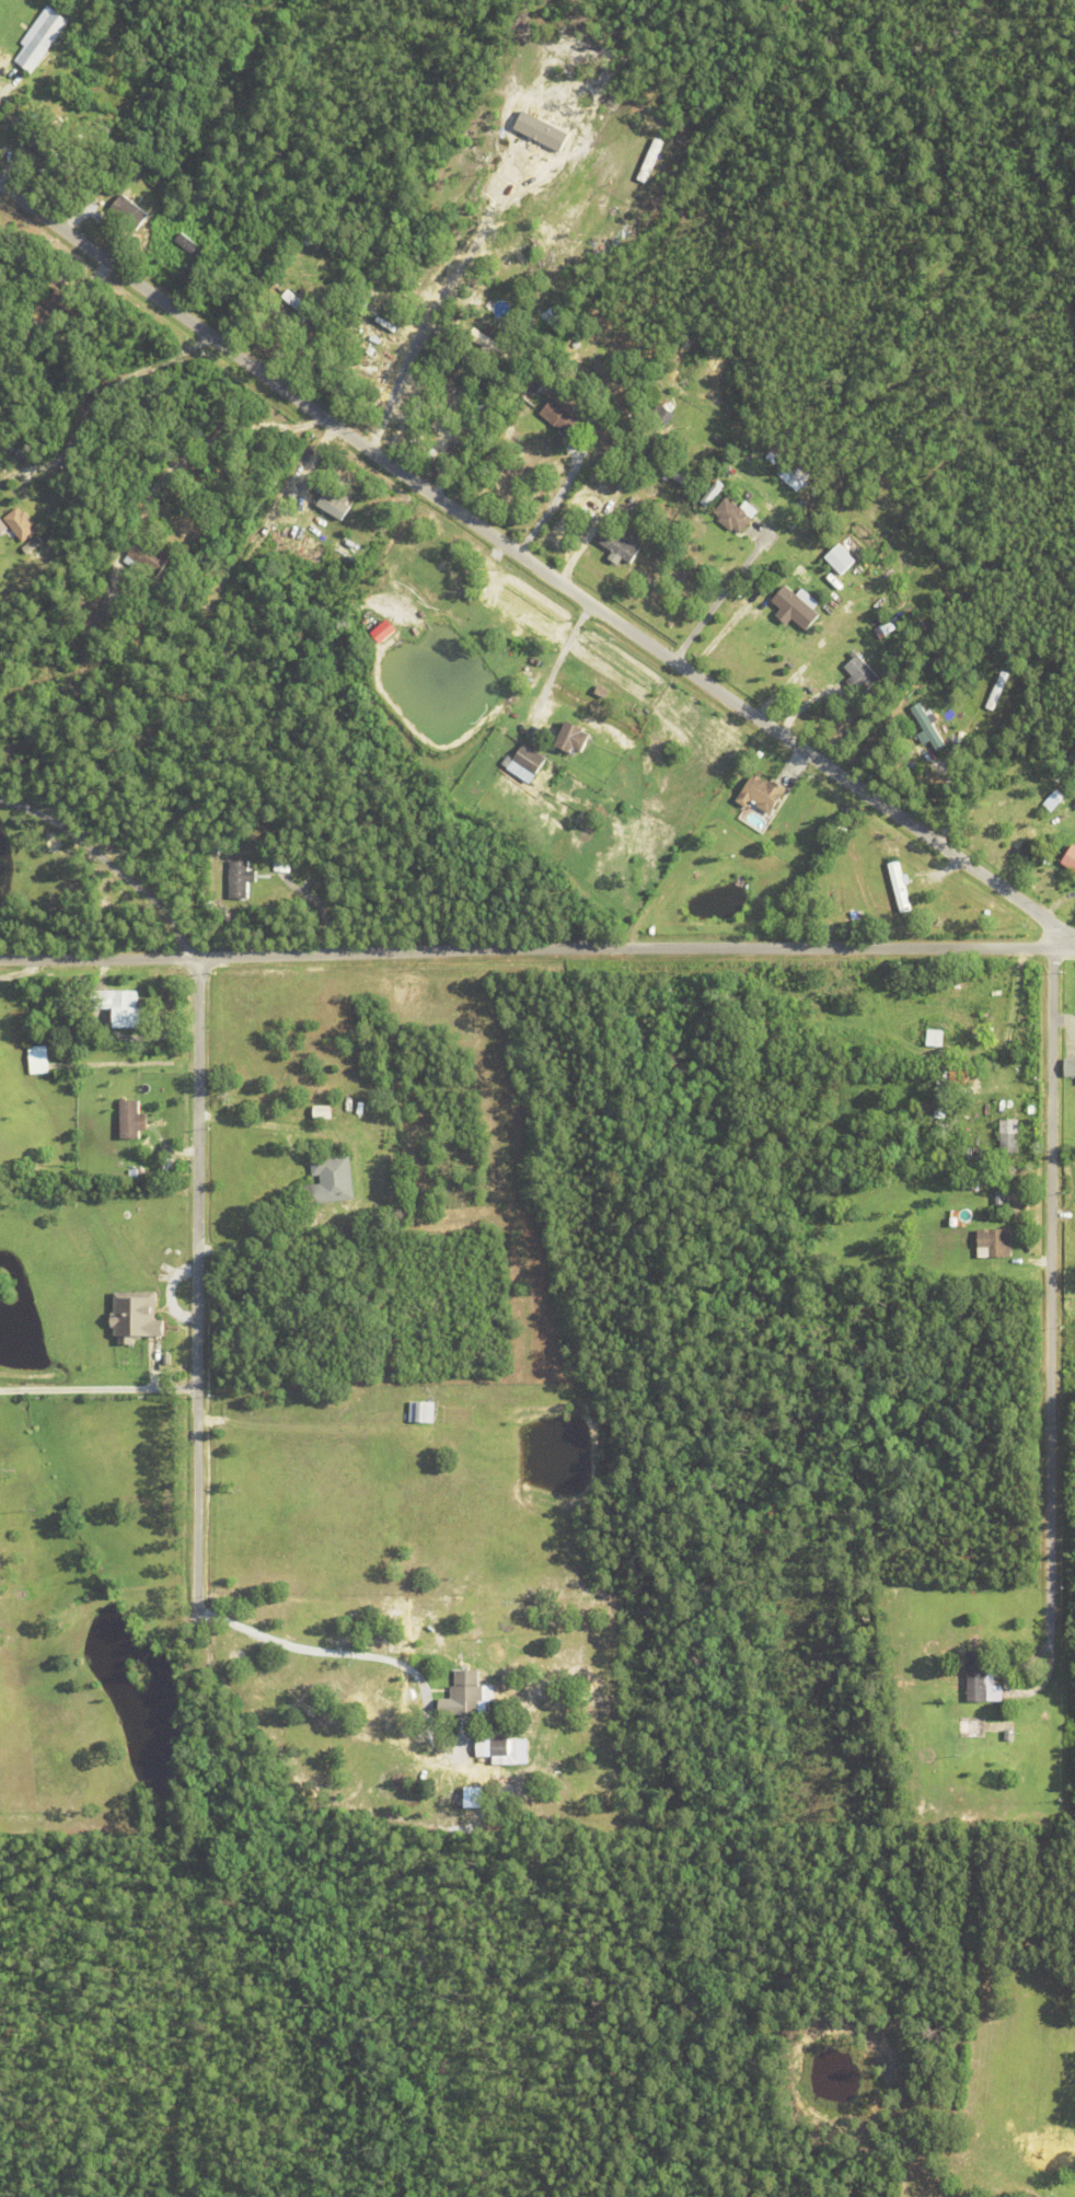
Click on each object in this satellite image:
building: (43, 41)
building: (5, 56)
building: (45, 117)
building: (48, 152)
building: (135, 170)
building: (129, 210)
building: (312, 231)
building: (265, 296)
building: (298, 305)
building: (423, 324)
building: (579, 339)
building: (537, 381)
road: (95, 392)
building: (668, 416)
building: (559, 417)
building: (637, 425)
road: (440, 430)
road: (198, 447)
building: (666, 465)
building: (714, 493)
building: (335, 505)
building: (789, 505)
building: (23, 514)
building: (732, 516)
building: (2, 527)
building: (619, 545)
building: (146, 557)
building: (844, 558)
road: (534, 565)
building: (136, 594)
building: (798, 606)
building: (388, 631)
building: (881, 632)
road: (555, 659)
building: (833, 670)
building: (860, 674)
building: (997, 691)
building: (927, 728)
building: (571, 738)
building: (126, 740)
building: (134, 754)
building: (527, 763)
building: (761, 794)
building: (1054, 800)
building: (801, 807)
building: (714, 818)
building: (725, 832)
building: (217, 844)
road: (118, 859)
building: (1070, 862)
building: (281, 864)
building: (239, 879)
building: (222, 883)
building: (899, 887)
road: (411, 950)
road: (101, 956)
building: (118, 1007)
building: (936, 1038)
building: (37, 1060)
building: (1070, 1068)
building: (941, 1095)
building: (936, 1096)
building: (324, 1112)
building: (128, 1120)
building: (1008, 1136)
building: (328, 1182)
building: (943, 1187)
building: (999, 1198)
building: (994, 1245)
road: (1047, 1310)
building: (137, 1316)
road: (99, 1389)
building: (421, 1413)
road: (243, 1630)
building: (982, 1679)
building: (467, 1696)
building: (966, 1730)
building: (1009, 1737)
building: (499, 1748)
building: (1059, 2192)

